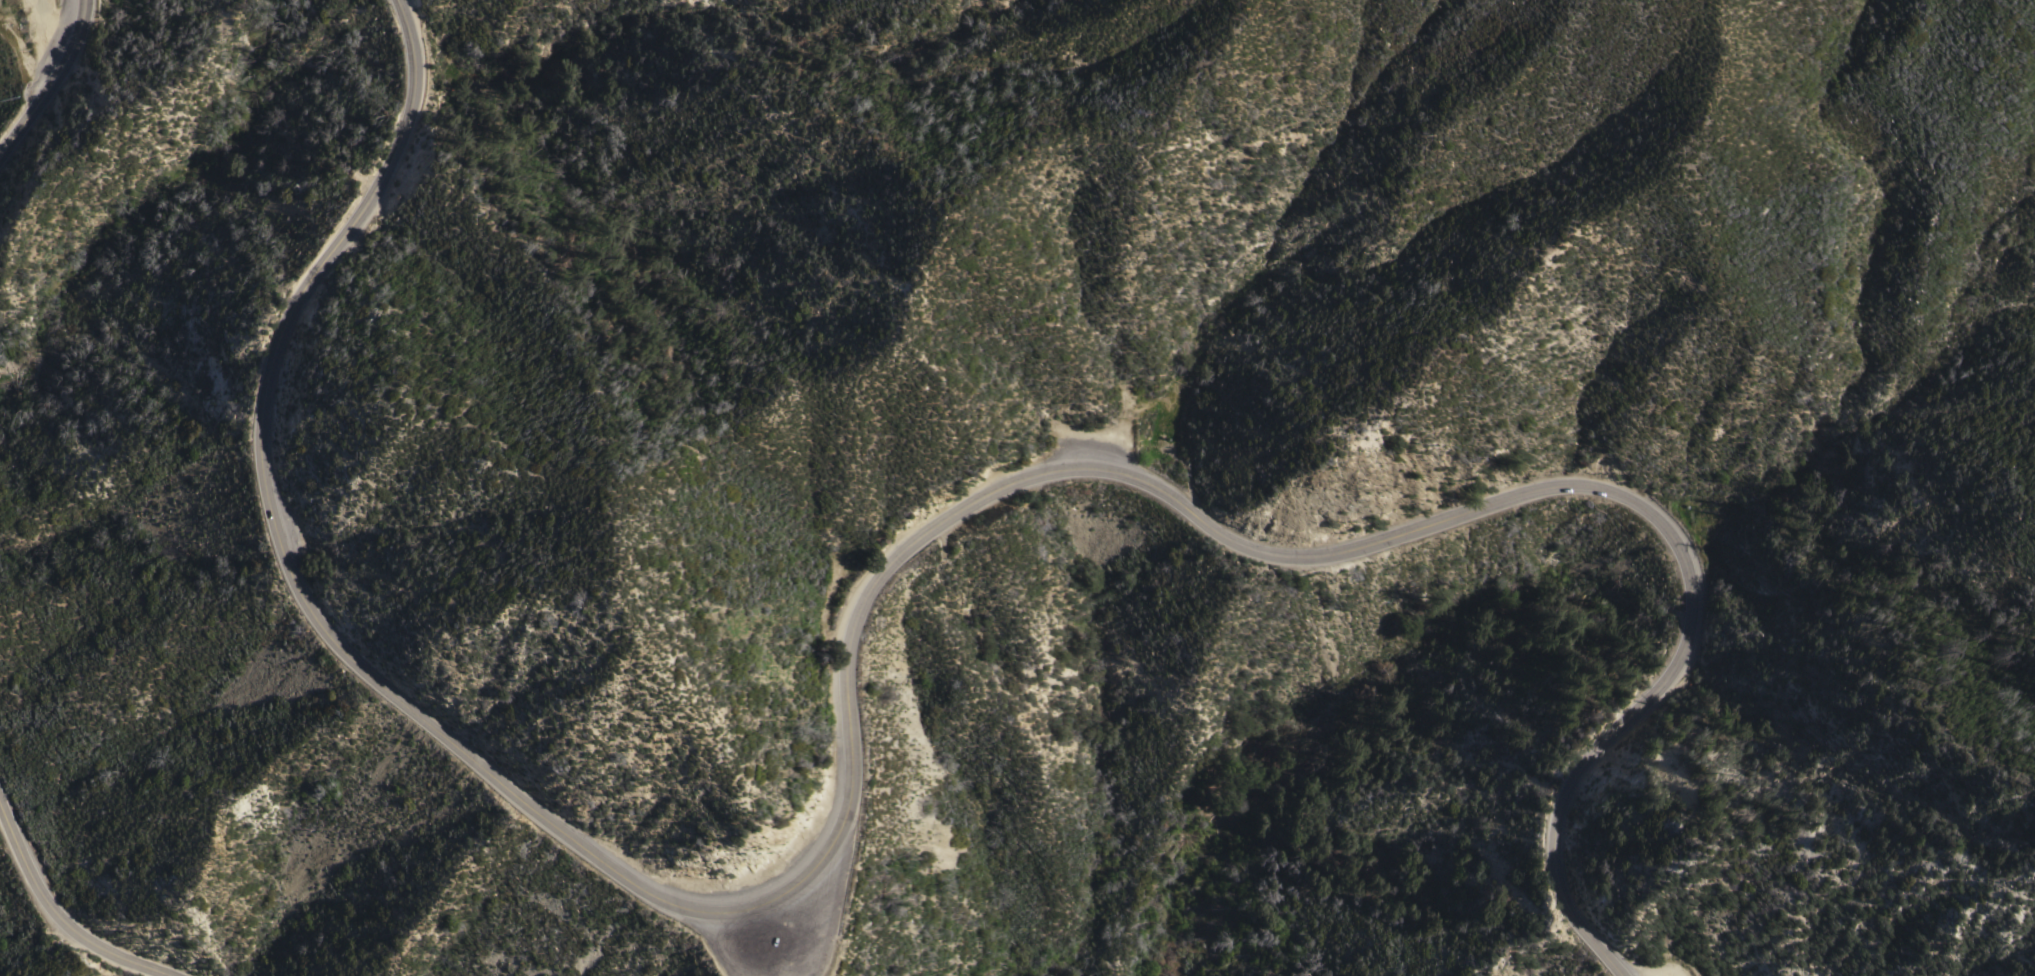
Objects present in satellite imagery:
road: (50, 83)
parking lot: (1092, 445)
road: (859, 692)
road: (74, 916)
parking lot: (780, 938)

